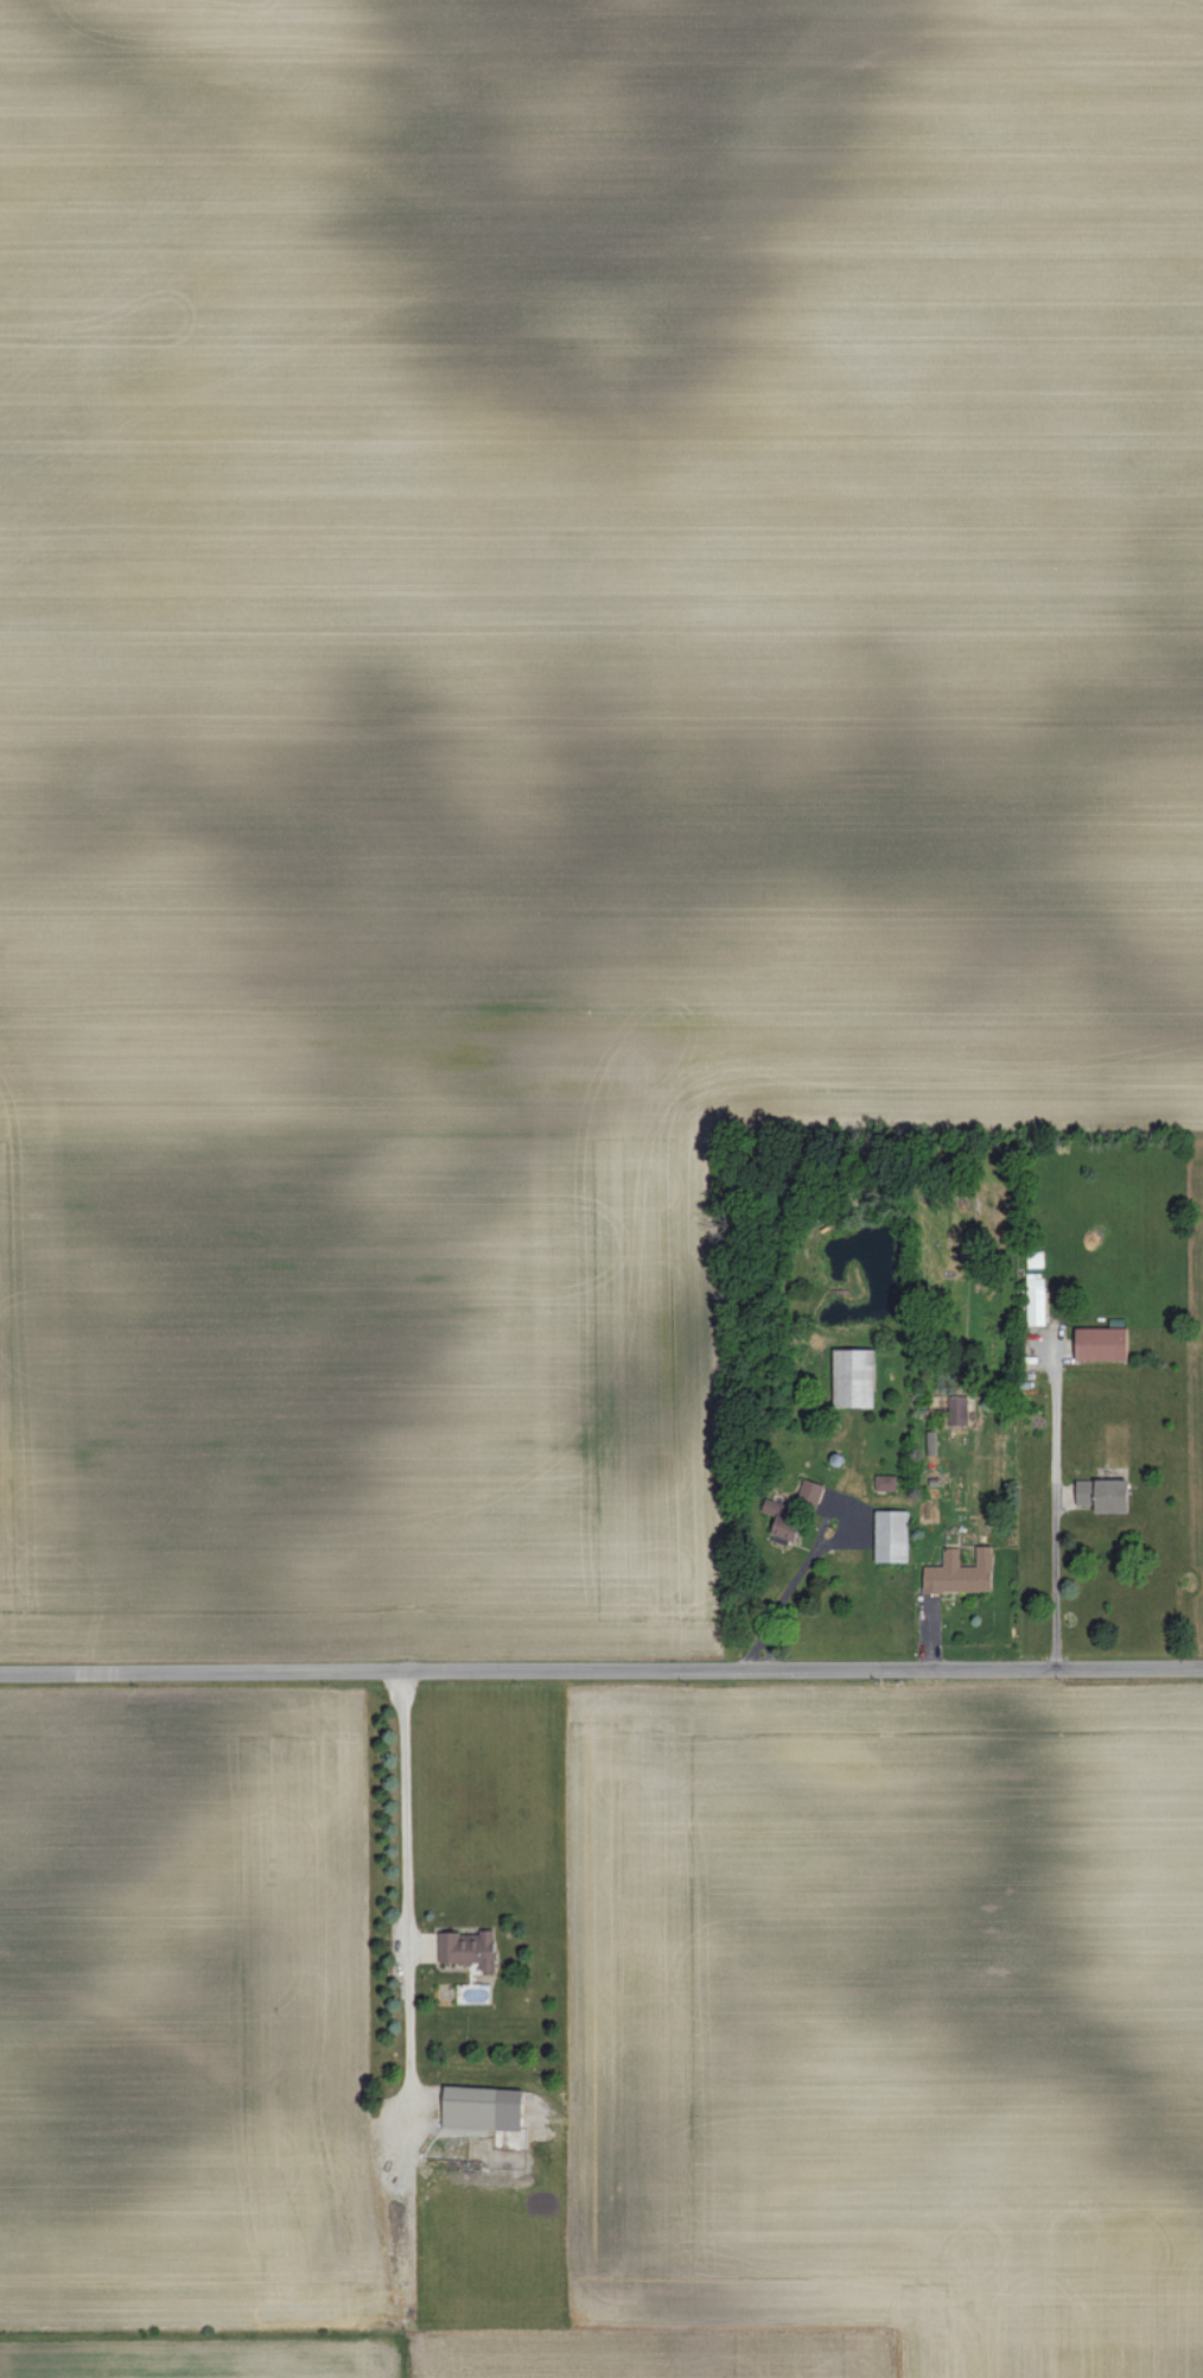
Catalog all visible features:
building: (1036, 1298)
building: (1102, 1343)
building: (853, 1377)
building: (957, 1409)
building: (930, 1441)
building: (886, 1482)
building: (810, 1492)
building: (1103, 1494)
building: (784, 1521)
building: (891, 1535)
road: (813, 1559)
building: (961, 1572)
road: (1056, 1579)
road: (770, 1653)
road: (600, 1668)
road: (409, 1900)
building: (467, 1947)
building: (483, 2107)

